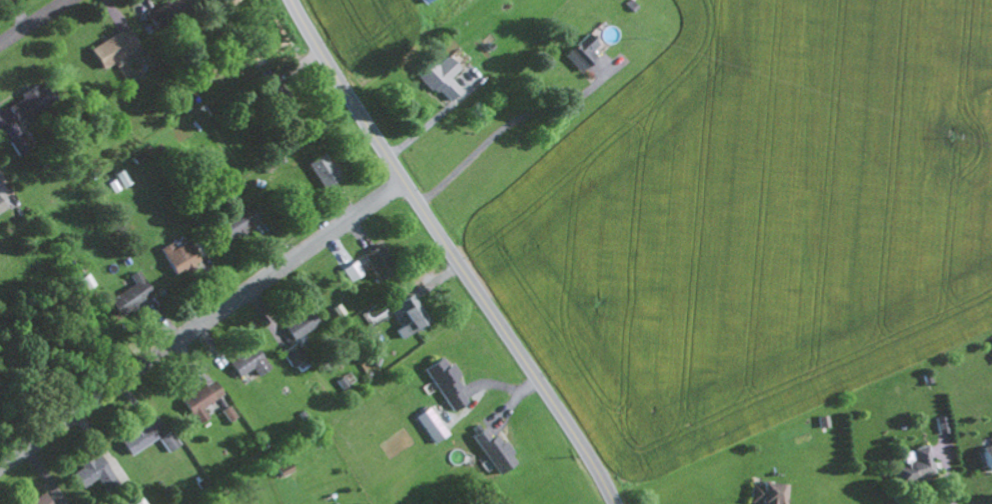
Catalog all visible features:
building: (207, 0)
building: (421, 1)
building: (169, 8)
road: (36, 23)
building: (112, 48)
building: (580, 52)
building: (438, 77)
building: (26, 105)
road: (502, 132)
building: (17, 142)
building: (320, 170)
road: (0, 172)
building: (120, 177)
building: (0, 209)
building: (234, 222)
road: (451, 253)
building: (176, 255)
building: (377, 260)
building: (349, 270)
building: (129, 294)
building: (408, 315)
building: (298, 323)
road: (202, 325)
building: (290, 354)
building: (246, 362)
building: (344, 380)
building: (443, 382)
building: (199, 400)
building: (821, 421)
building: (428, 425)
building: (134, 438)
building: (166, 441)
building: (490, 450)
building: (986, 456)
building: (912, 465)
building: (281, 470)
building: (89, 472)
building: (765, 493)
building: (131, 499)
building: (37, 500)

